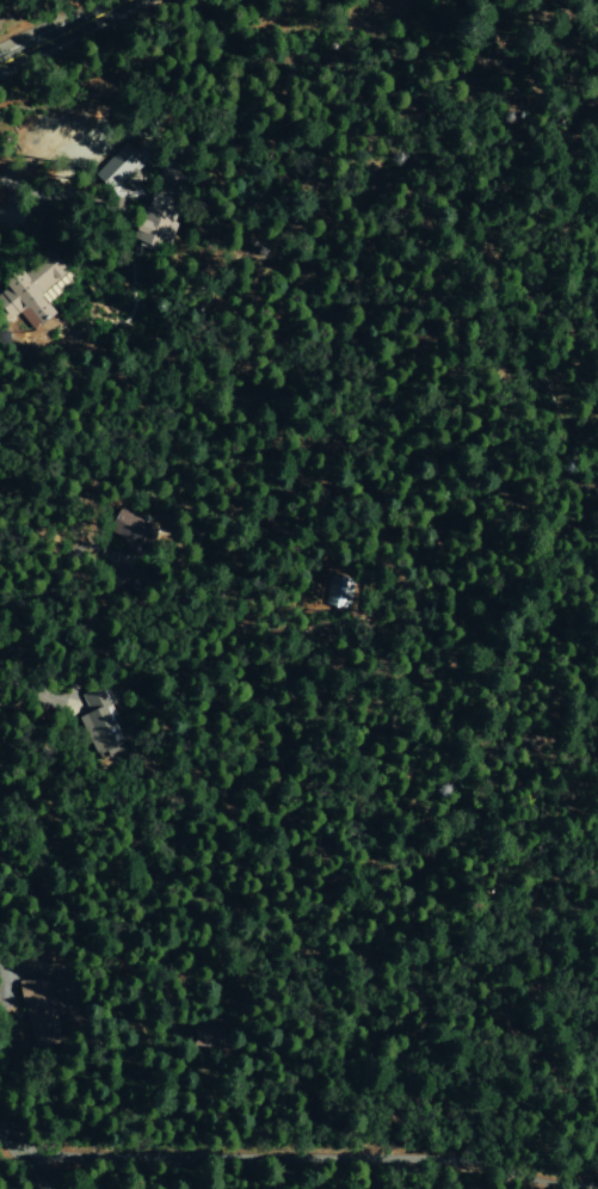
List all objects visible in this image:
road: (359, 6)
road: (302, 16)
road: (61, 32)
building: (118, 165)
building: (56, 287)
building: (29, 289)
building: (100, 722)
building: (39, 1011)
road: (306, 1156)
road: (21, 1163)

